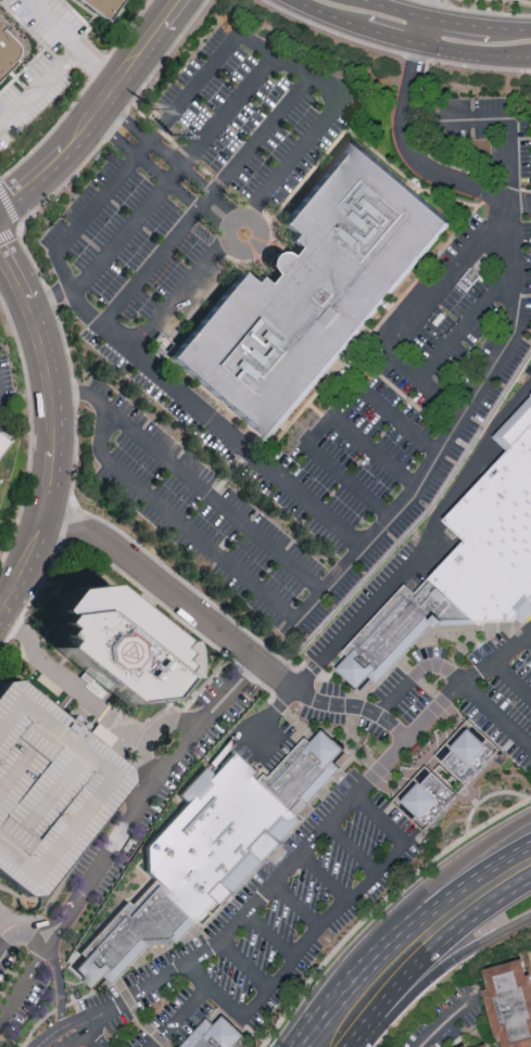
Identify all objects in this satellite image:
building: (106, 5)
road: (325, 16)
road: (451, 20)
road: (421, 23)
road: (388, 36)
road: (69, 42)
building: (9, 47)
road: (472, 53)
road: (292, 66)
road: (37, 84)
road: (96, 111)
power tower: (152, 112)
road: (493, 118)
power tower: (178, 130)
road: (410, 153)
road: (178, 163)
road: (173, 175)
road: (164, 178)
parking lot: (195, 183)
road: (202, 201)
road: (520, 201)
road: (245, 231)
building: (313, 291)
road: (416, 314)
road: (88, 319)
road: (463, 327)
parking lot: (334, 411)
road: (464, 413)
road: (397, 419)
road: (60, 430)
road: (317, 430)
building: (4, 447)
building: (0, 486)
road: (426, 547)
building: (465, 569)
road: (172, 593)
road: (324, 596)
road: (530, 635)
building: (113, 647)
road: (416, 674)
road: (515, 680)
parking lot: (500, 691)
road: (354, 705)
road: (268, 713)
road: (498, 714)
building: (104, 737)
building: (469, 753)
building: (48, 791)
parking lot: (48, 791)
building: (427, 800)
road: (117, 838)
road: (317, 842)
building: (207, 852)
road: (354, 852)
road: (327, 879)
road: (432, 886)
road: (299, 907)
road: (0, 918)
road: (447, 920)
parking lot: (264, 927)
road: (13, 928)
road: (316, 934)
road: (2, 935)
road: (273, 936)
road: (38, 940)
road: (13, 944)
road: (246, 966)
road: (438, 969)
road: (59, 985)
road: (361, 1005)
building: (511, 1006)
road: (180, 1017)
road: (444, 1021)
road: (58, 1031)
road: (338, 1034)
building: (218, 1035)
road: (78, 1036)
road: (92, 1036)
building: (490, 1045)
building: (471, 1046)

